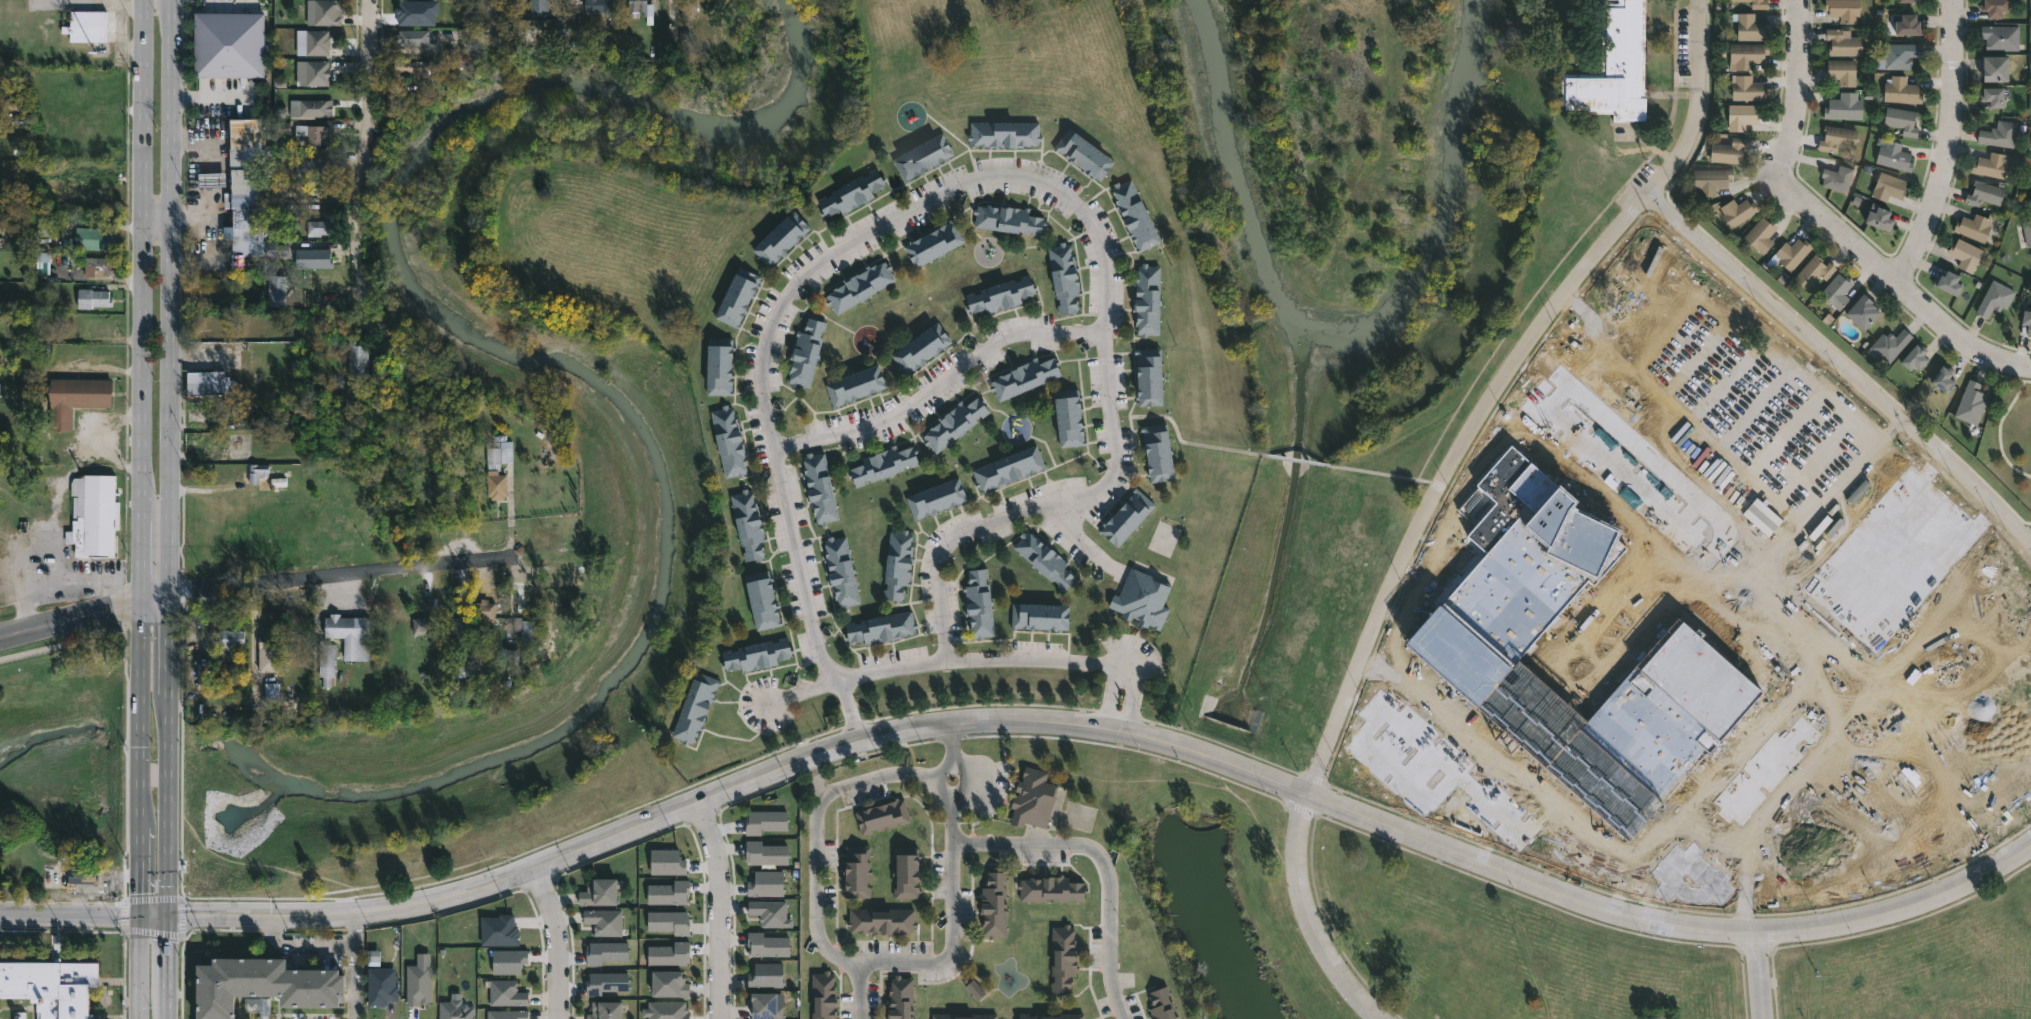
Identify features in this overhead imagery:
building: (1904, 1)
building: (1755, 3)
building: (538, 6)
building: (600, 7)
building: (638, 8)
building: (1995, 8)
building: (1843, 10)
building: (415, 12)
building: (328, 13)
building: (91, 25)
building: (1906, 25)
road: (490, 26)
building: (1750, 28)
building: (414, 37)
building: (2000, 38)
building: (319, 42)
building: (229, 43)
building: (1843, 44)
building: (1747, 54)
building: (1898, 56)
building: (409, 67)
building: (1614, 67)
building: (1995, 70)
building: (319, 72)
building: (1840, 72)
building: (1746, 88)
building: (1900, 91)
road: (1799, 95)
building: (1994, 97)
road: (211, 98)
building: (316, 107)
building: (1843, 108)
building: (1740, 115)
building: (1901, 119)
building: (314, 133)
building: (1006, 133)
building: (1999, 133)
building: (1836, 138)
road: (1955, 148)
building: (1729, 150)
building: (1086, 153)
building: (924, 156)
building: (1893, 156)
road: (362, 157)
building: (1990, 164)
building: (317, 167)
building: (1836, 177)
building: (1710, 179)
building: (2030, 179)
building: (240, 183)
building: (1888, 186)
building: (2030, 187)
building: (853, 193)
building: (1984, 193)
building: (1736, 211)
building: (1138, 215)
building: (1879, 218)
building: (1007, 219)
road: (157, 225)
building: (1974, 225)
building: (320, 228)
road: (871, 230)
building: (2026, 231)
building: (1760, 234)
building: (95, 235)
building: (783, 238)
building: (935, 243)
building: (1792, 252)
building: (1965, 253)
building: (315, 257)
building: (98, 265)
building: (1812, 271)
building: (1064, 277)
building: (1948, 282)
building: (861, 285)
road: (1105, 285)
road: (1906, 286)
building: (1836, 290)
building: (276, 291)
building: (1002, 295)
building: (739, 296)
building: (93, 297)
building: (1994, 298)
road: (171, 300)
building: (1149, 300)
road: (142, 303)
building: (1862, 310)
building: (2026, 319)
building: (101, 330)
building: (1888, 345)
building: (922, 346)
building: (808, 351)
building: (1914, 356)
building: (359, 357)
road: (1844, 364)
building: (722, 365)
building: (381, 370)
building: (1150, 375)
building: (1022, 377)
building: (1943, 377)
building: (209, 382)
road: (938, 383)
building: (856, 385)
road: (1500, 385)
building: (0, 390)
road: (1556, 394)
building: (1657, 396)
building: (80, 397)
building: (1970, 402)
building: (1067, 418)
building: (956, 422)
park: (2008, 436)
building: (731, 442)
road: (1188, 442)
building: (1157, 452)
road: (1296, 459)
road: (1933, 462)
building: (881, 464)
building: (498, 465)
road: (1614, 466)
building: (1010, 468)
road: (1380, 473)
building: (259, 474)
building: (425, 482)
building: (822, 487)
building: (936, 498)
road: (1040, 504)
road: (1688, 511)
road: (1986, 511)
building: (96, 514)
building: (1130, 517)
building: (750, 524)
road: (1455, 534)
road: (1079, 537)
park: (1164, 537)
road: (1431, 538)
building: (1471, 542)
road: (1716, 550)
building: (1043, 559)
building: (896, 565)
building: (842, 571)
road: (800, 572)
road: (336, 574)
road: (83, 580)
road: (1423, 581)
road: (28, 586)
building: (1141, 599)
building: (1846, 599)
building: (764, 600)
building: (1468, 602)
building: (981, 604)
road: (156, 605)
building: (486, 608)
building: (1042, 616)
road: (1847, 618)
road: (70, 622)
building: (455, 626)
building: (879, 628)
building: (423, 631)
building: (526, 631)
building: (349, 635)
building: (231, 640)
road: (71, 642)
road: (169, 647)
building: (268, 652)
building: (756, 655)
road: (1042, 660)
building: (327, 662)
road: (891, 669)
building: (457, 673)
building: (1935, 676)
road: (801, 690)
building: (270, 692)
road: (1110, 697)
road: (1129, 701)
building: (697, 709)
road: (851, 714)
road: (961, 720)
road: (950, 733)
road: (140, 762)
road: (1395, 768)
road: (1765, 768)
road: (1452, 770)
road: (941, 780)
road: (962, 780)
building: (1031, 799)
road: (169, 805)
park: (1078, 815)
building: (881, 816)
building: (766, 821)
road: (816, 830)
road: (1590, 847)
road: (1097, 851)
building: (766, 852)
building: (667, 862)
road: (1740, 863)
building: (855, 871)
building: (904, 874)
building: (86, 881)
building: (767, 883)
road: (1678, 888)
building: (1050, 890)
building: (601, 893)
building: (670, 893)
building: (992, 905)
road: (1899, 907)
road: (716, 908)
building: (770, 912)
road: (69, 916)
road: (1307, 916)
traffic signals: (138, 917)
road: (153, 917)
traffic signals: (169, 918)
building: (605, 921)
building: (879, 921)
building: (669, 922)
building: (500, 929)
park: (1477, 938)
road: (555, 941)
road: (316, 944)
building: (768, 944)
road: (168, 951)
building: (606, 952)
building: (670, 954)
building: (1061, 958)
building: (509, 961)
road: (933, 963)
road: (137, 968)
building: (767, 975)
road: (1756, 975)
road: (354, 978)
building: (419, 981)
building: (606, 983)
building: (669, 983)
building: (51, 986)
building: (382, 986)
building: (265, 987)
building: (976, 991)
building: (506, 993)
building: (825, 996)
building: (898, 998)
road: (167, 1001)
building: (766, 1004)
building: (1159, 1004)
building: (456, 1009)
building: (606, 1010)
building: (667, 1010)
building: (508, 1014)
building: (943, 1016)
building: (1047, 1016)
building: (0, 1018)

